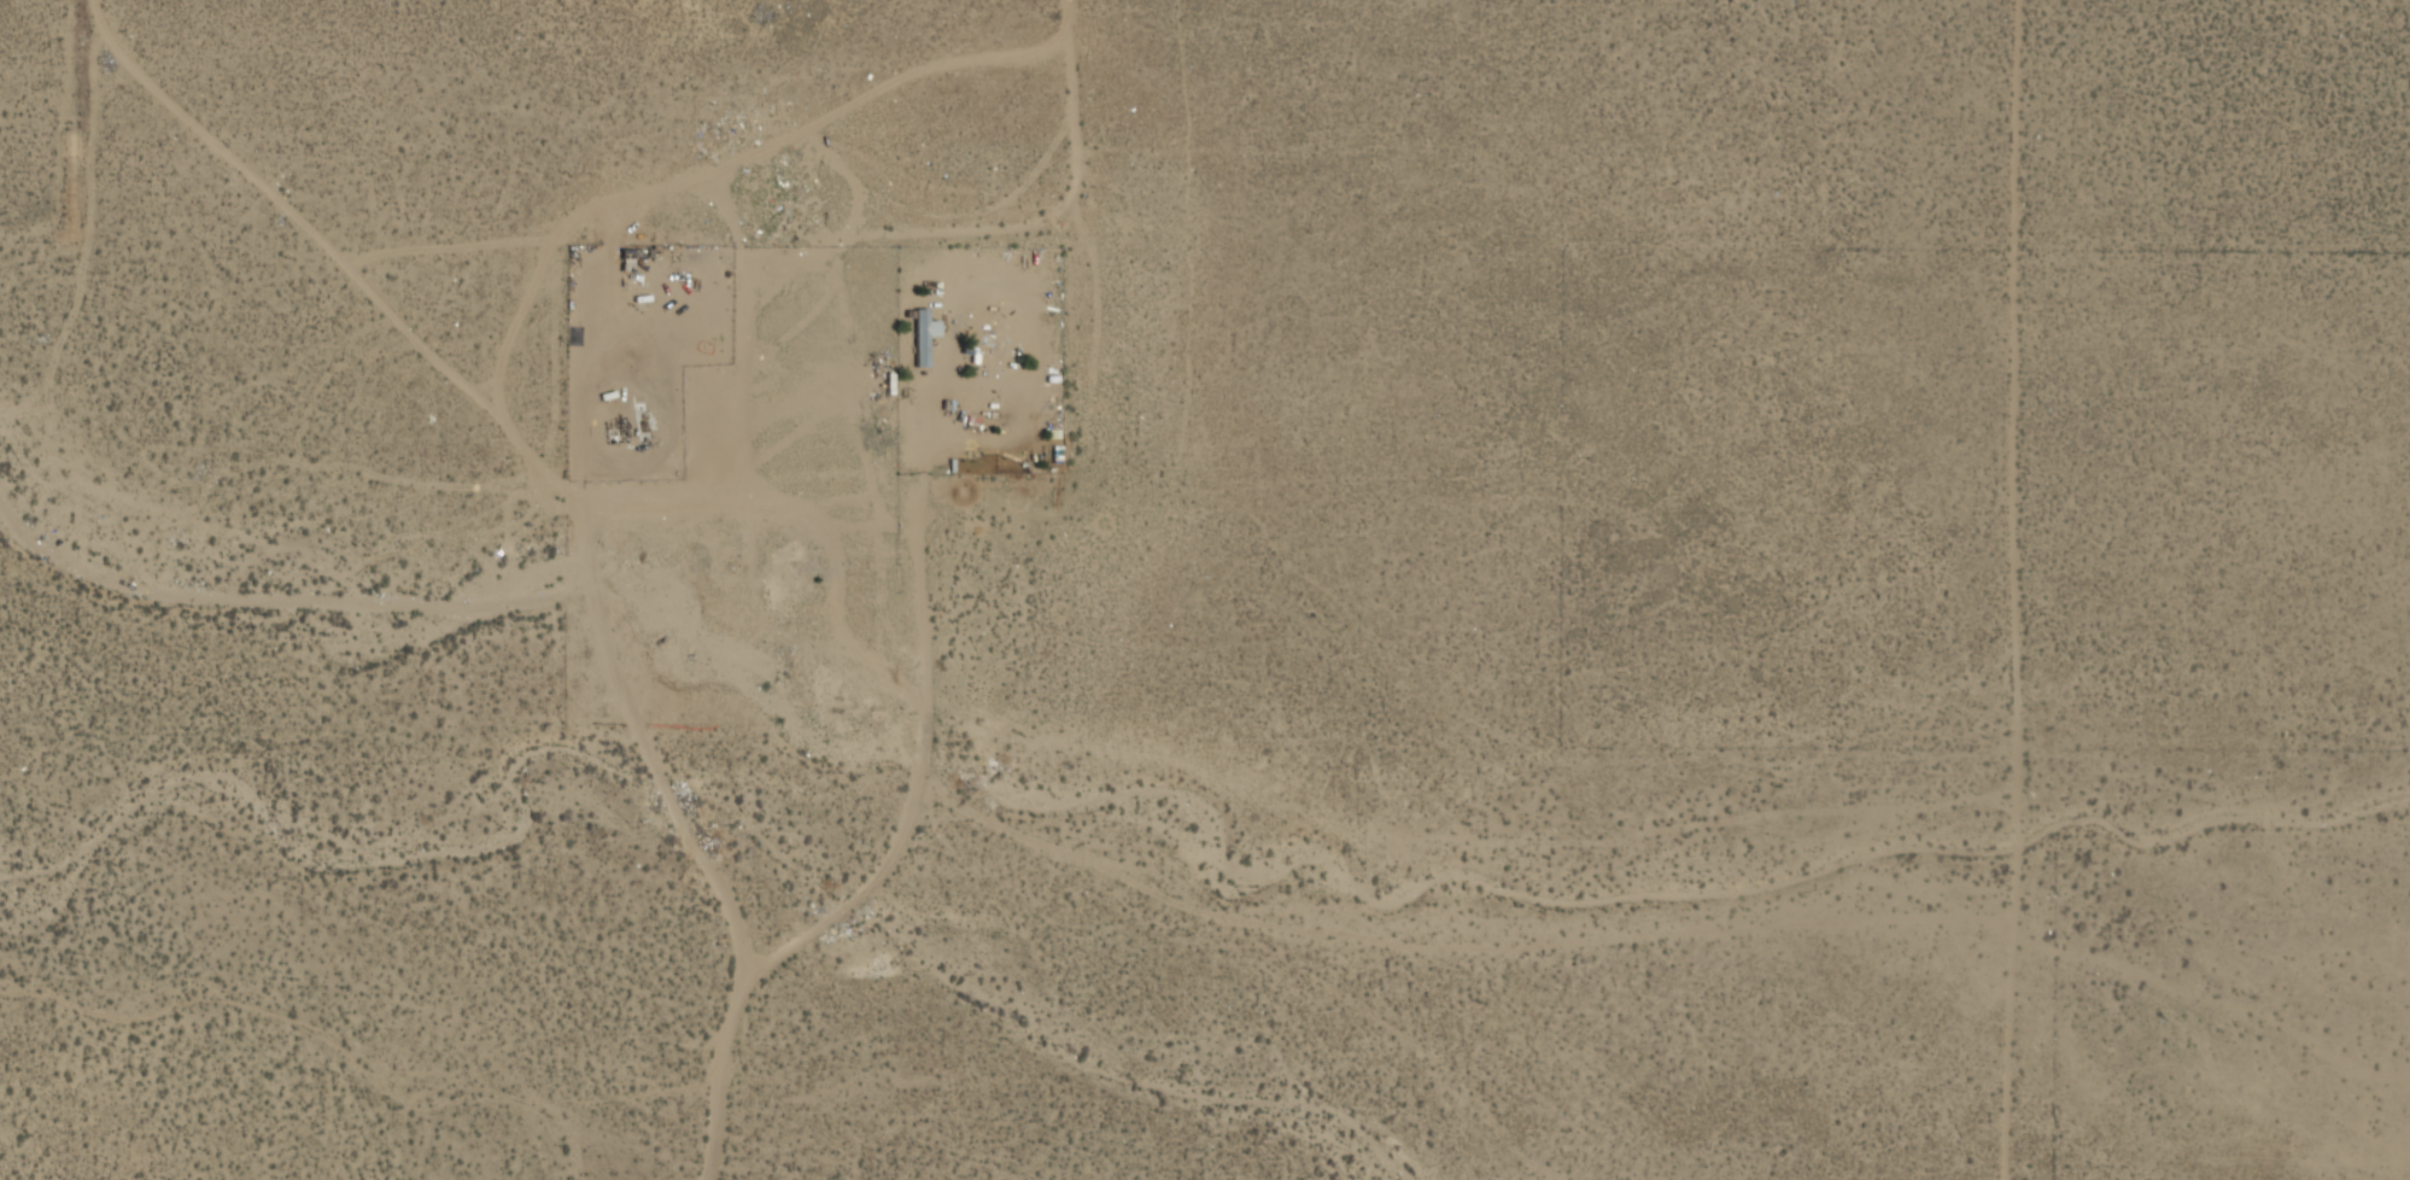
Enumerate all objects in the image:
building: (924, 332)
road: (696, 845)

